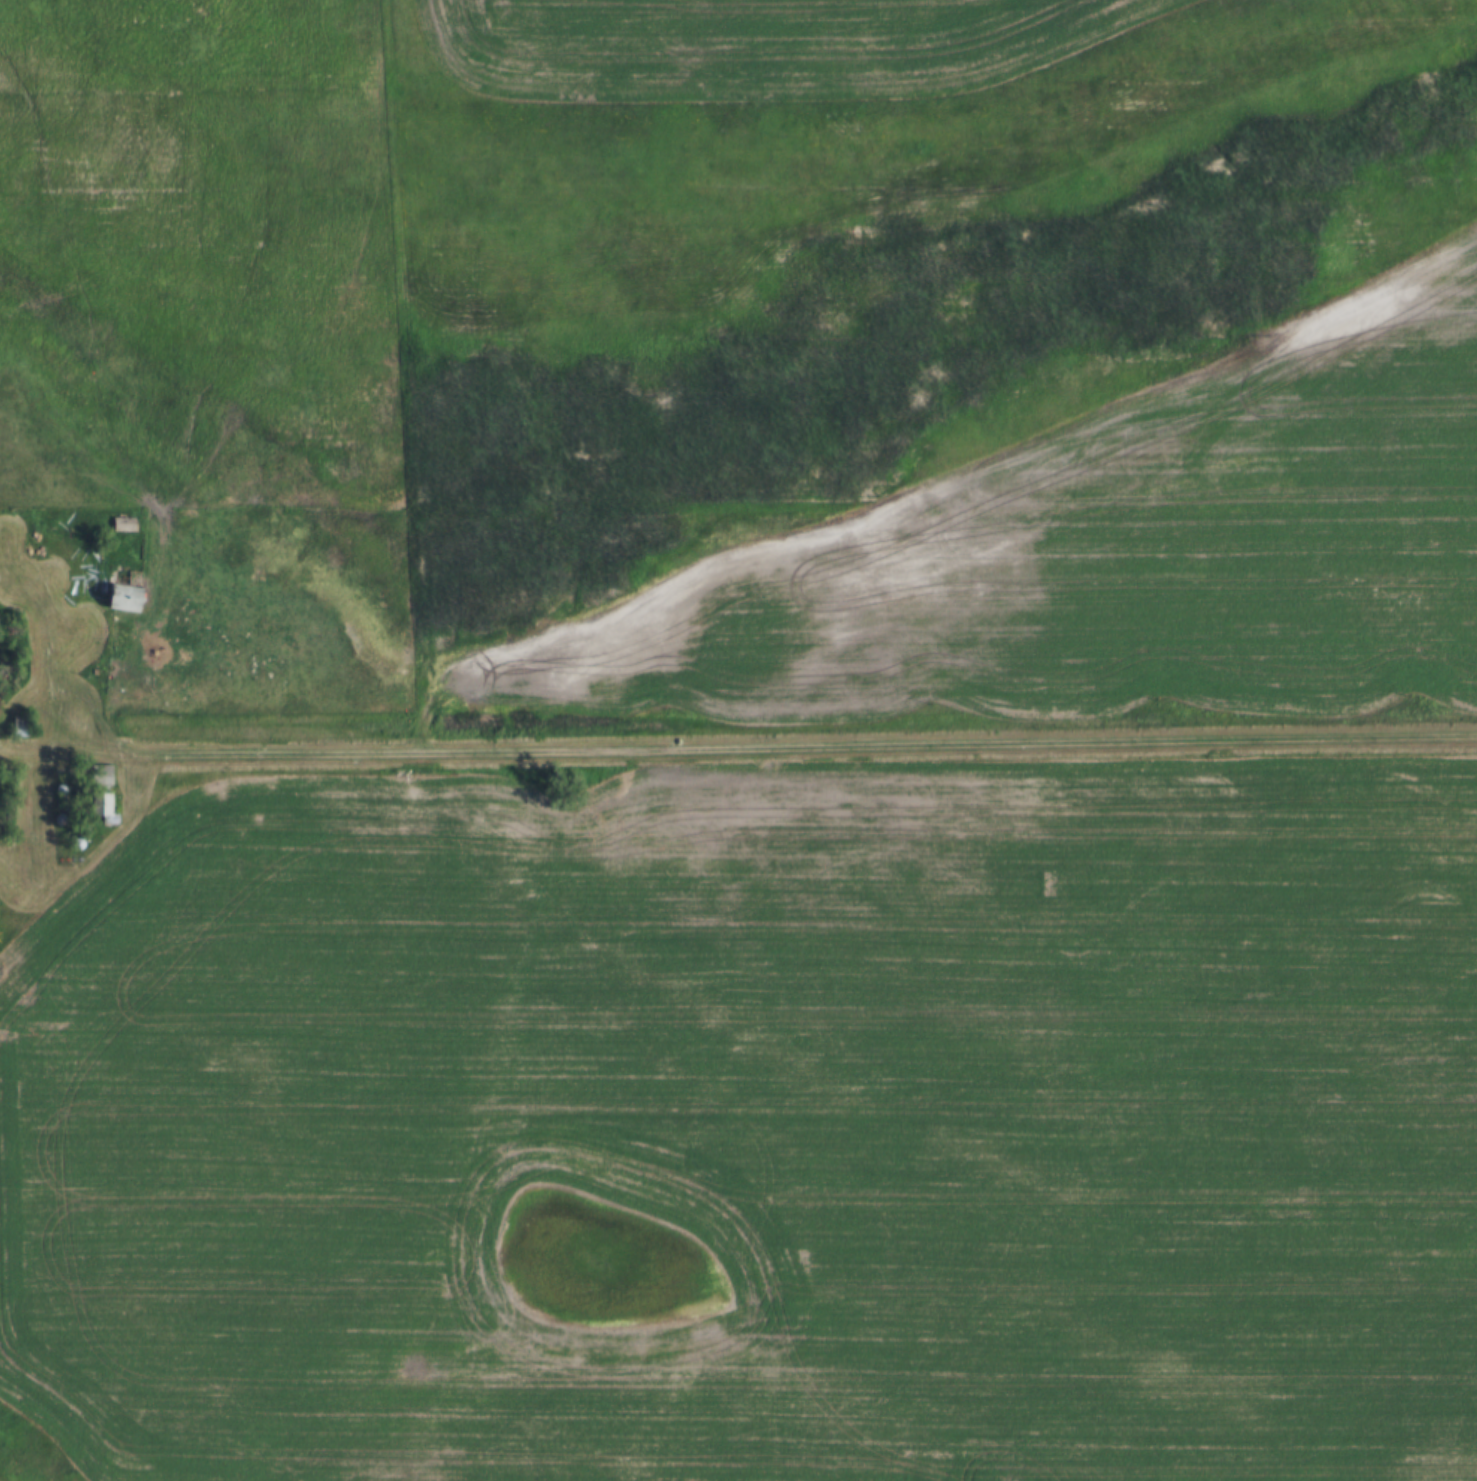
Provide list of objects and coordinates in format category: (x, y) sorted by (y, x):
building: (126, 597)
building: (19, 727)
road: (698, 746)
building: (102, 809)

